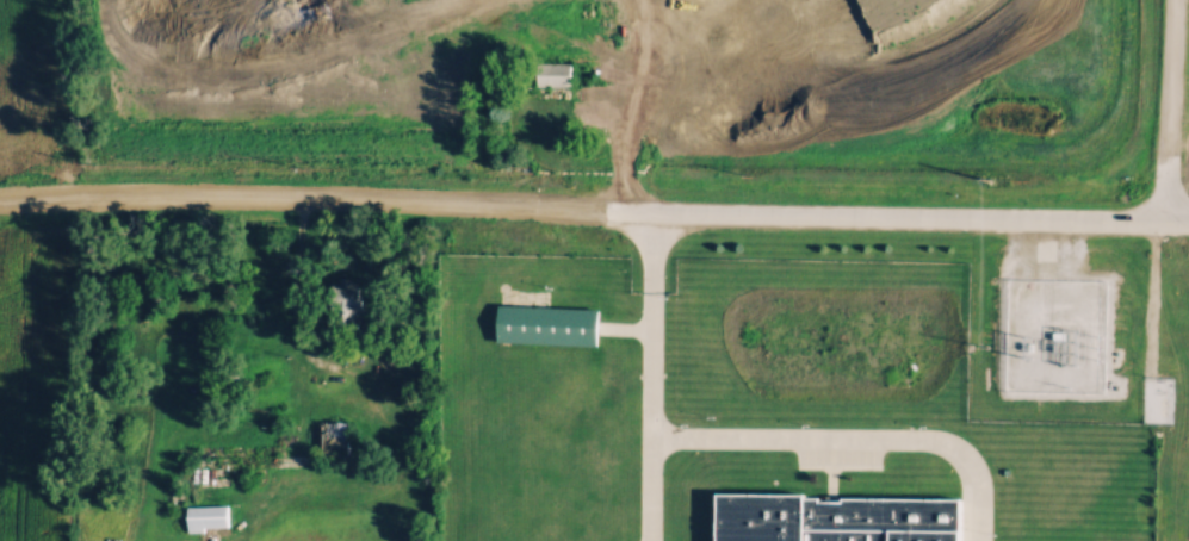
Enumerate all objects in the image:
building: (574, 73)
building: (625, 91)
road: (1169, 108)
road: (302, 199)
road: (896, 211)
road: (298, 298)
road: (649, 319)
building: (547, 323)
power substation: (1054, 332)
building: (570, 365)
building: (498, 380)
building: (500, 415)
building: (336, 436)
road: (852, 437)
road: (649, 487)
building: (209, 515)
building: (836, 517)

